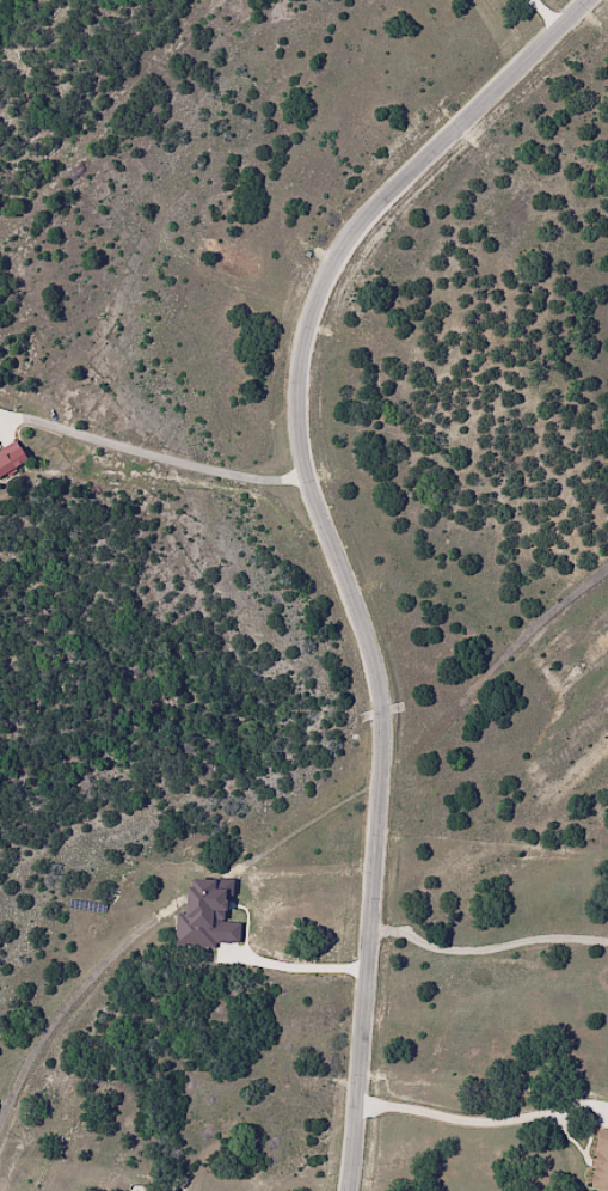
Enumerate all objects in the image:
road: (166, 457)
building: (16, 460)
road: (330, 542)
building: (207, 916)
road: (486, 951)
building: (602, 1166)

